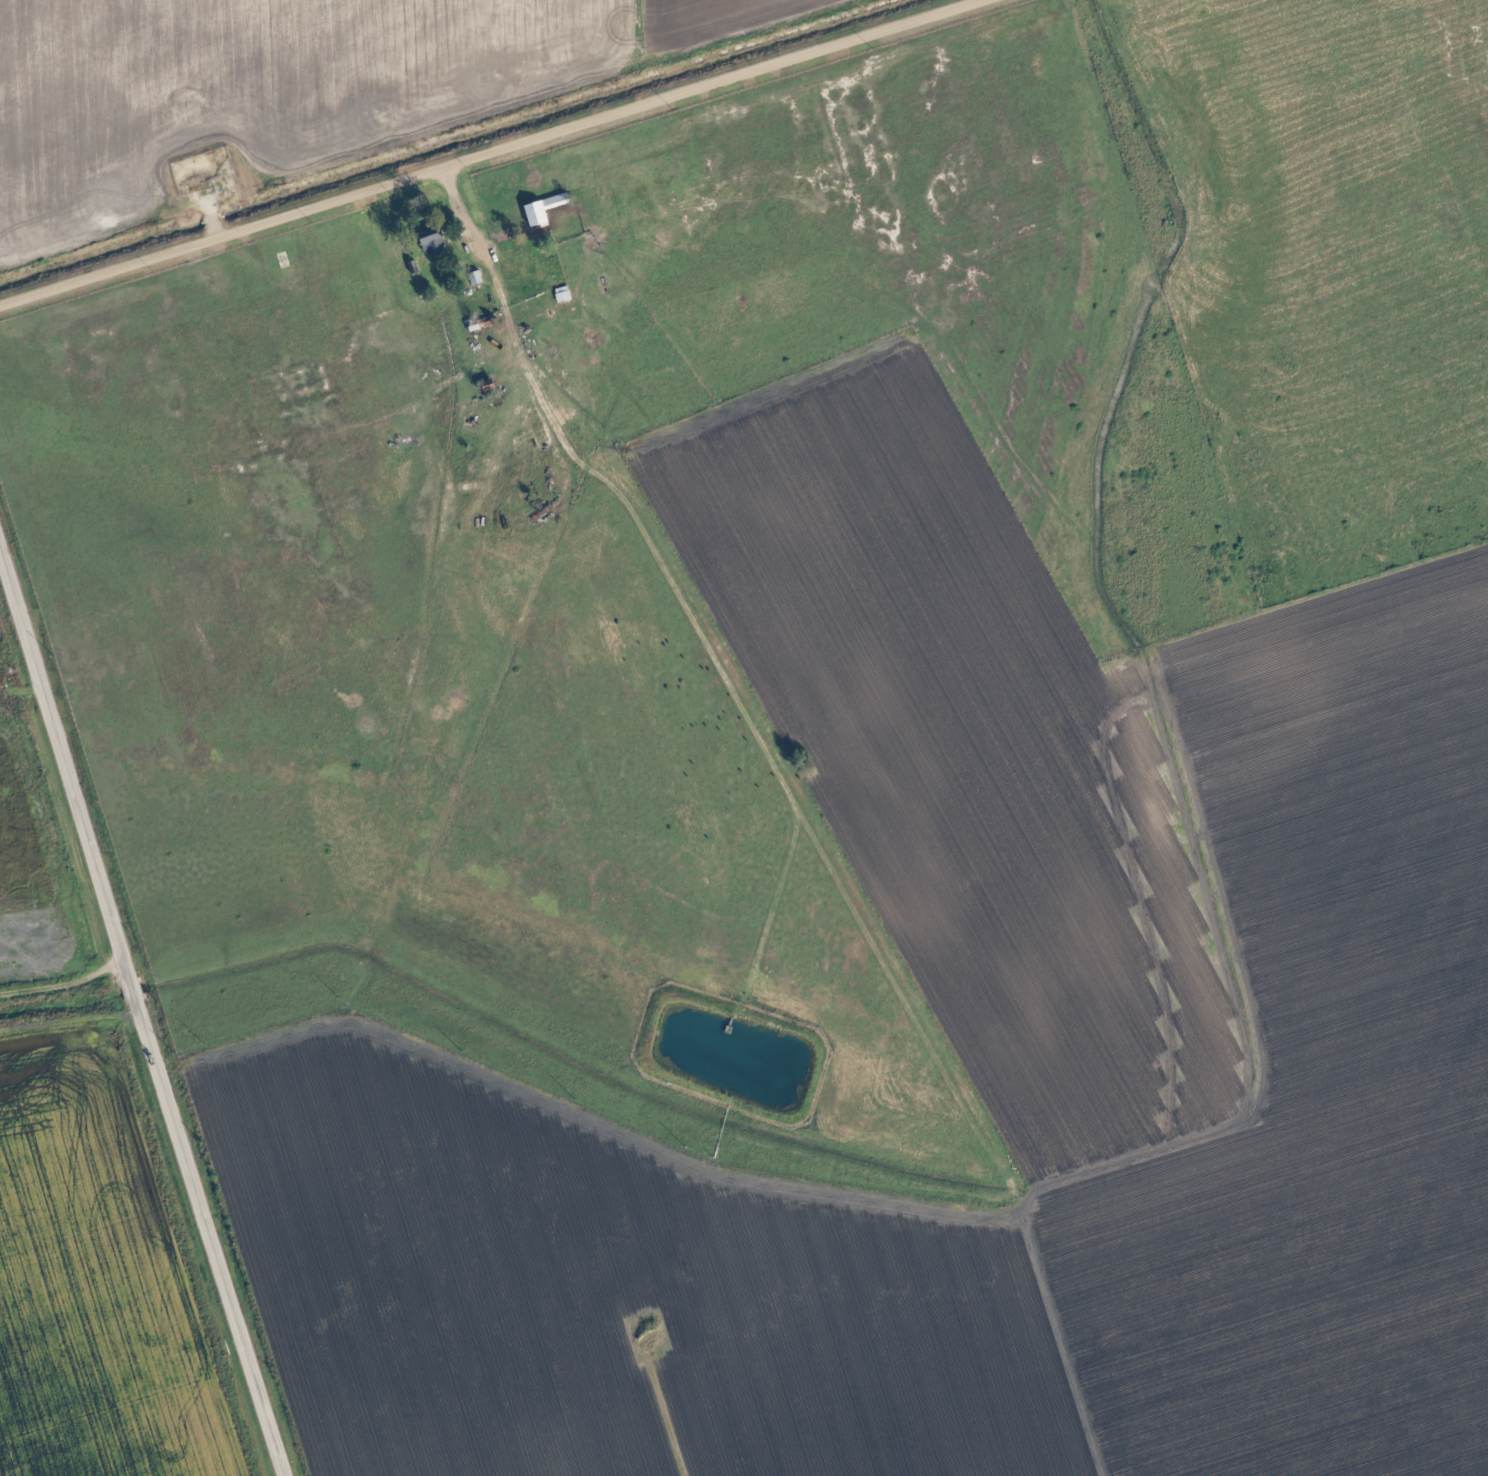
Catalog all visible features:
road: (485, 151)
road: (468, 207)
building: (544, 210)
road: (215, 211)
building: (433, 241)
road: (66, 991)
road: (145, 1018)

